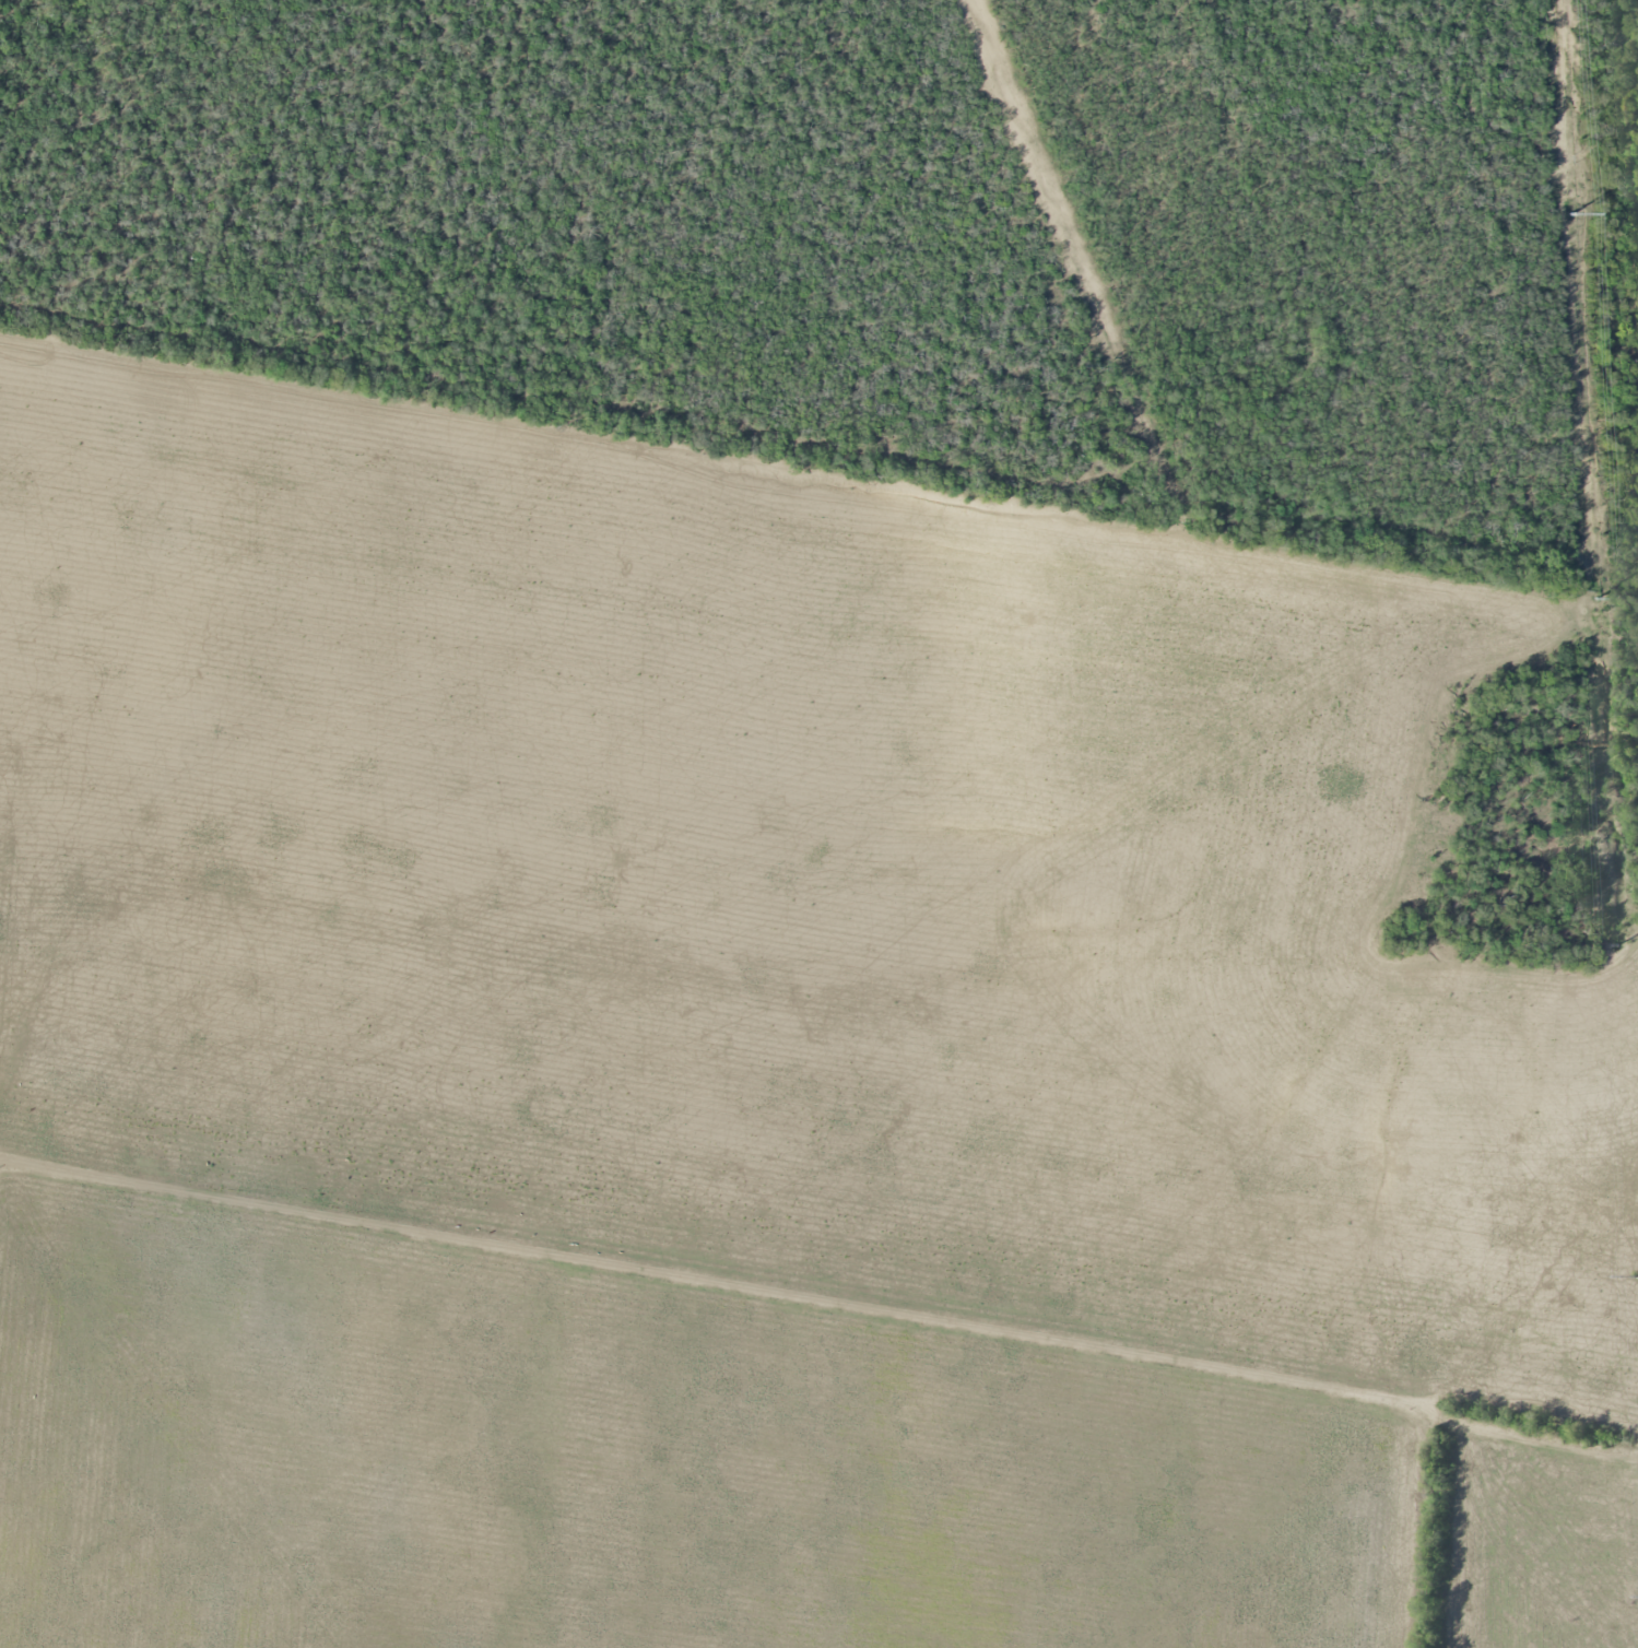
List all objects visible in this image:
power tower: (1570, 208)
power tower: (1595, 598)
power tower: (1618, 946)
power tower: (1637, 1275)

